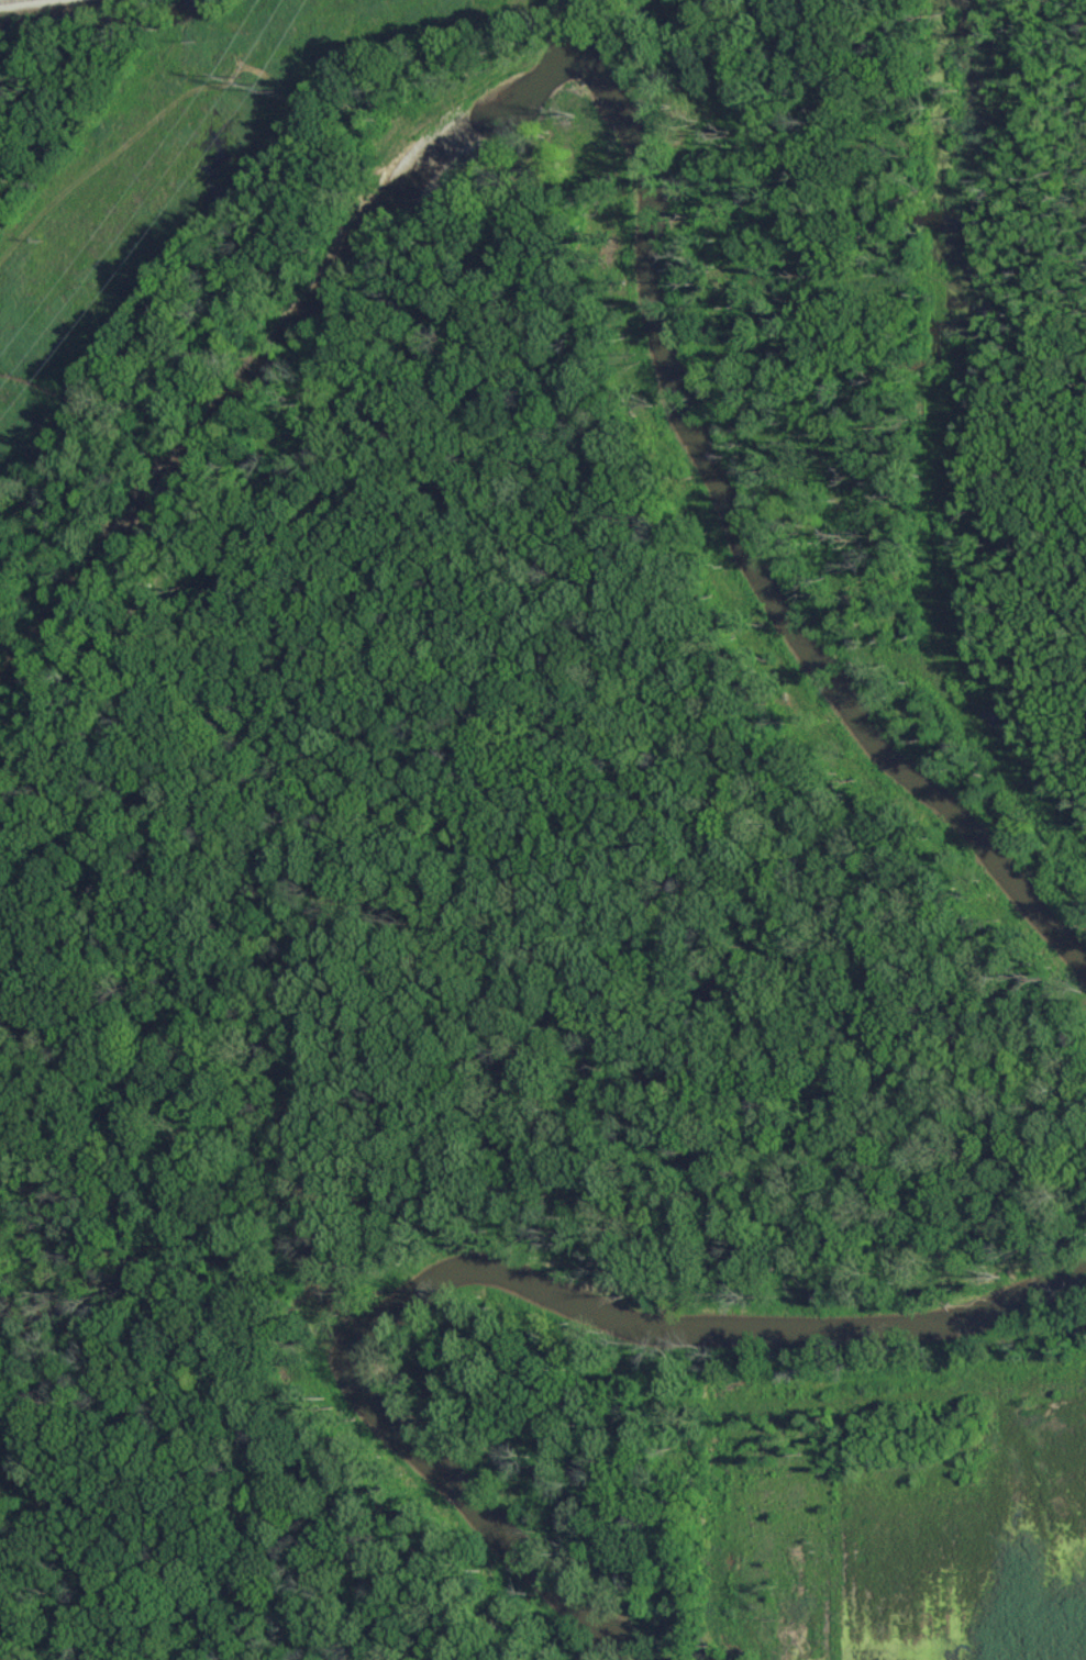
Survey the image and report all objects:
railway: (5, 0)
power tower: (263, 86)

